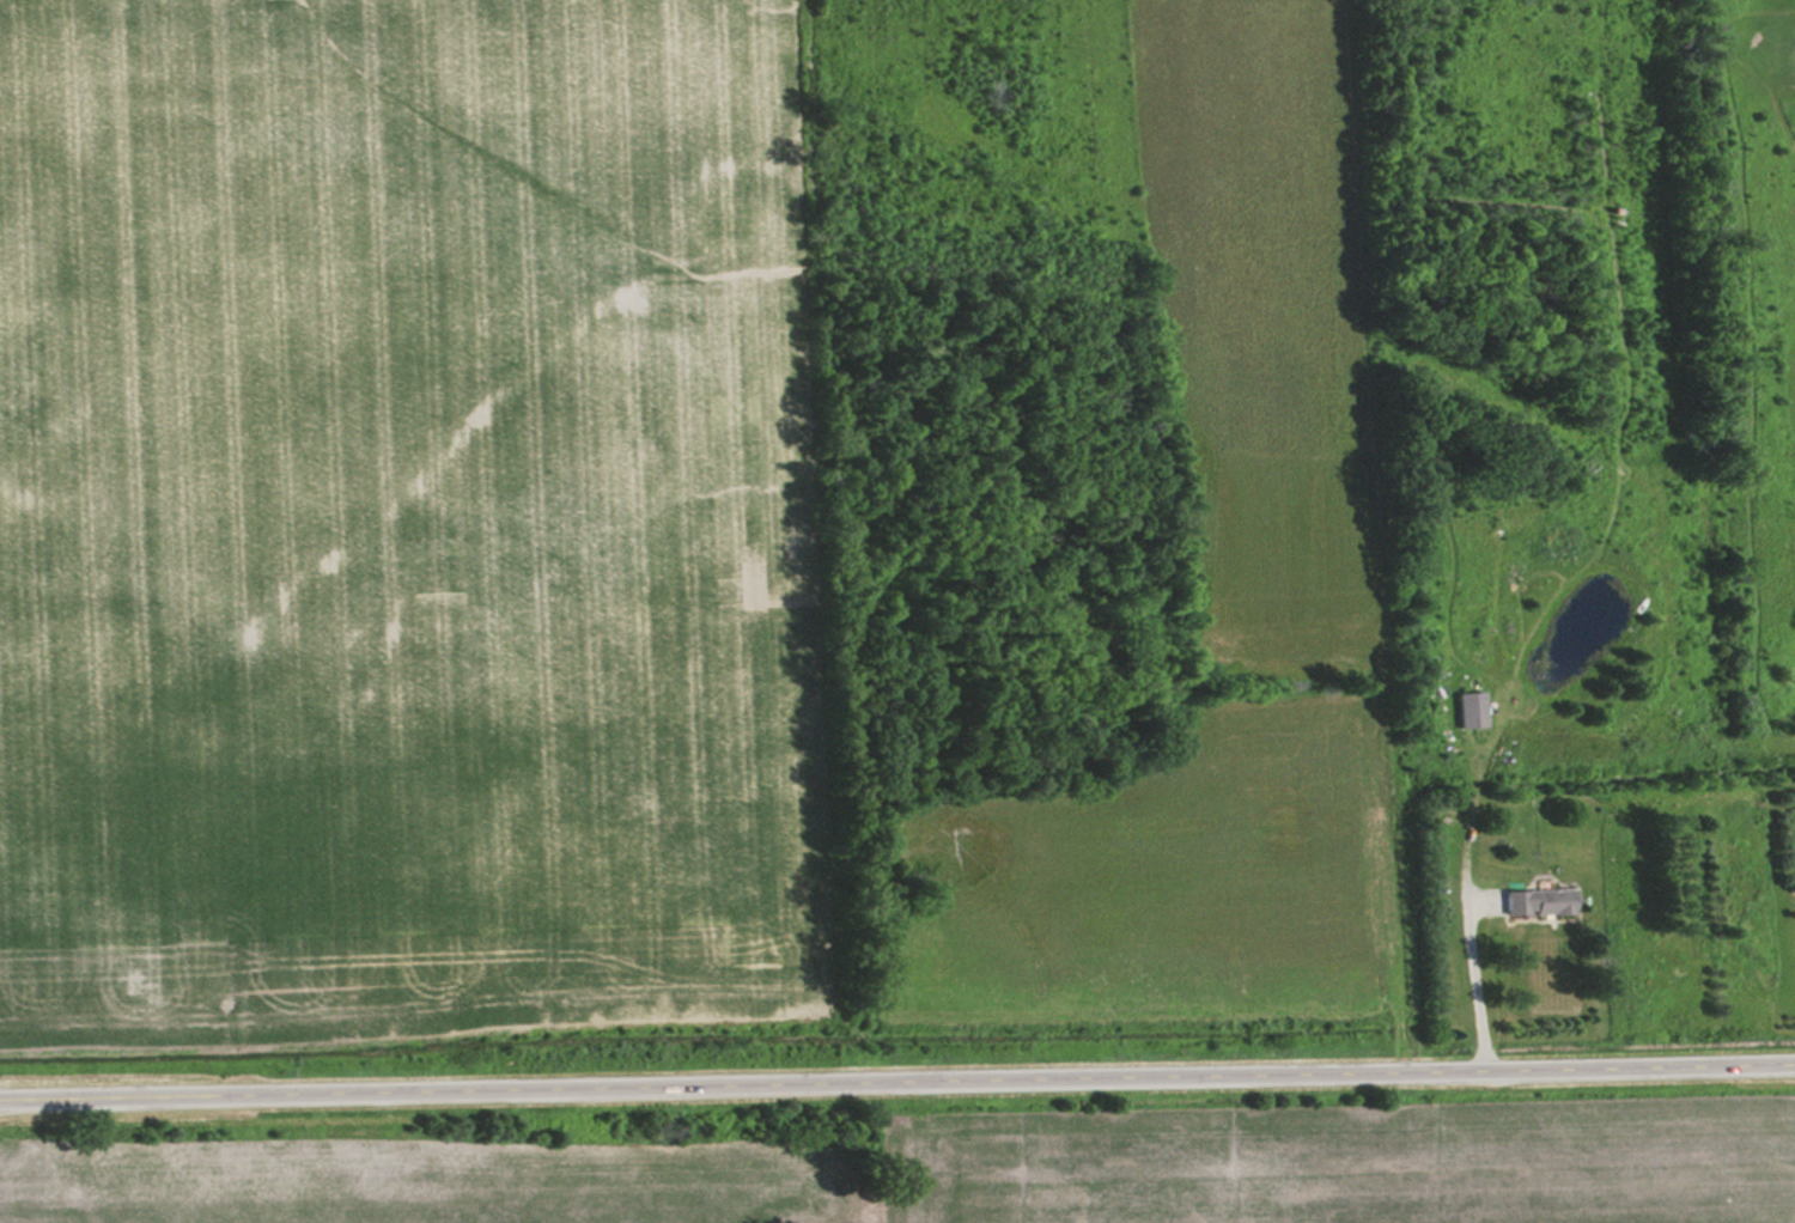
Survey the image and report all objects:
building: (1470, 710)
building: (1537, 901)
road: (896, 1076)

